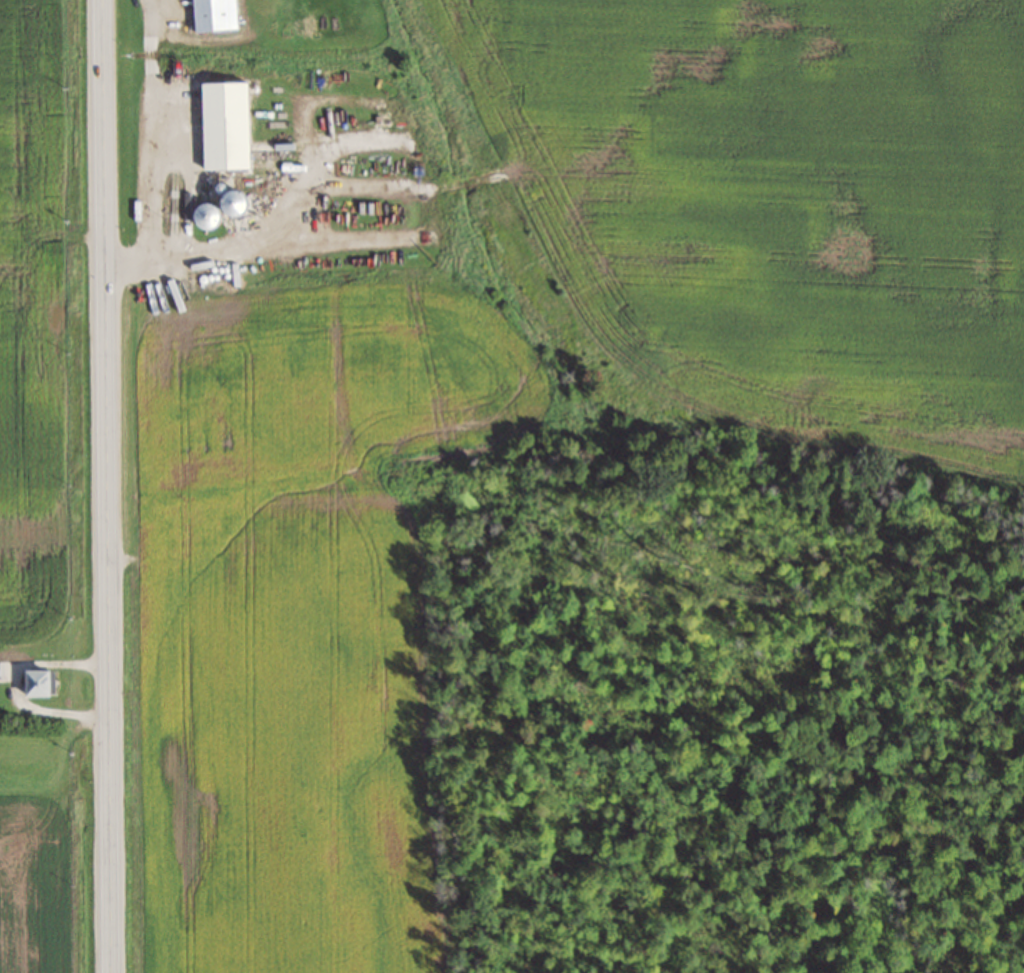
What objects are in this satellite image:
building: (211, 15)
building: (221, 125)
crop: (47, 329)
crop: (516, 393)
road: (106, 486)
building: (3, 667)
building: (35, 683)
park: (48, 767)
crop: (49, 887)

